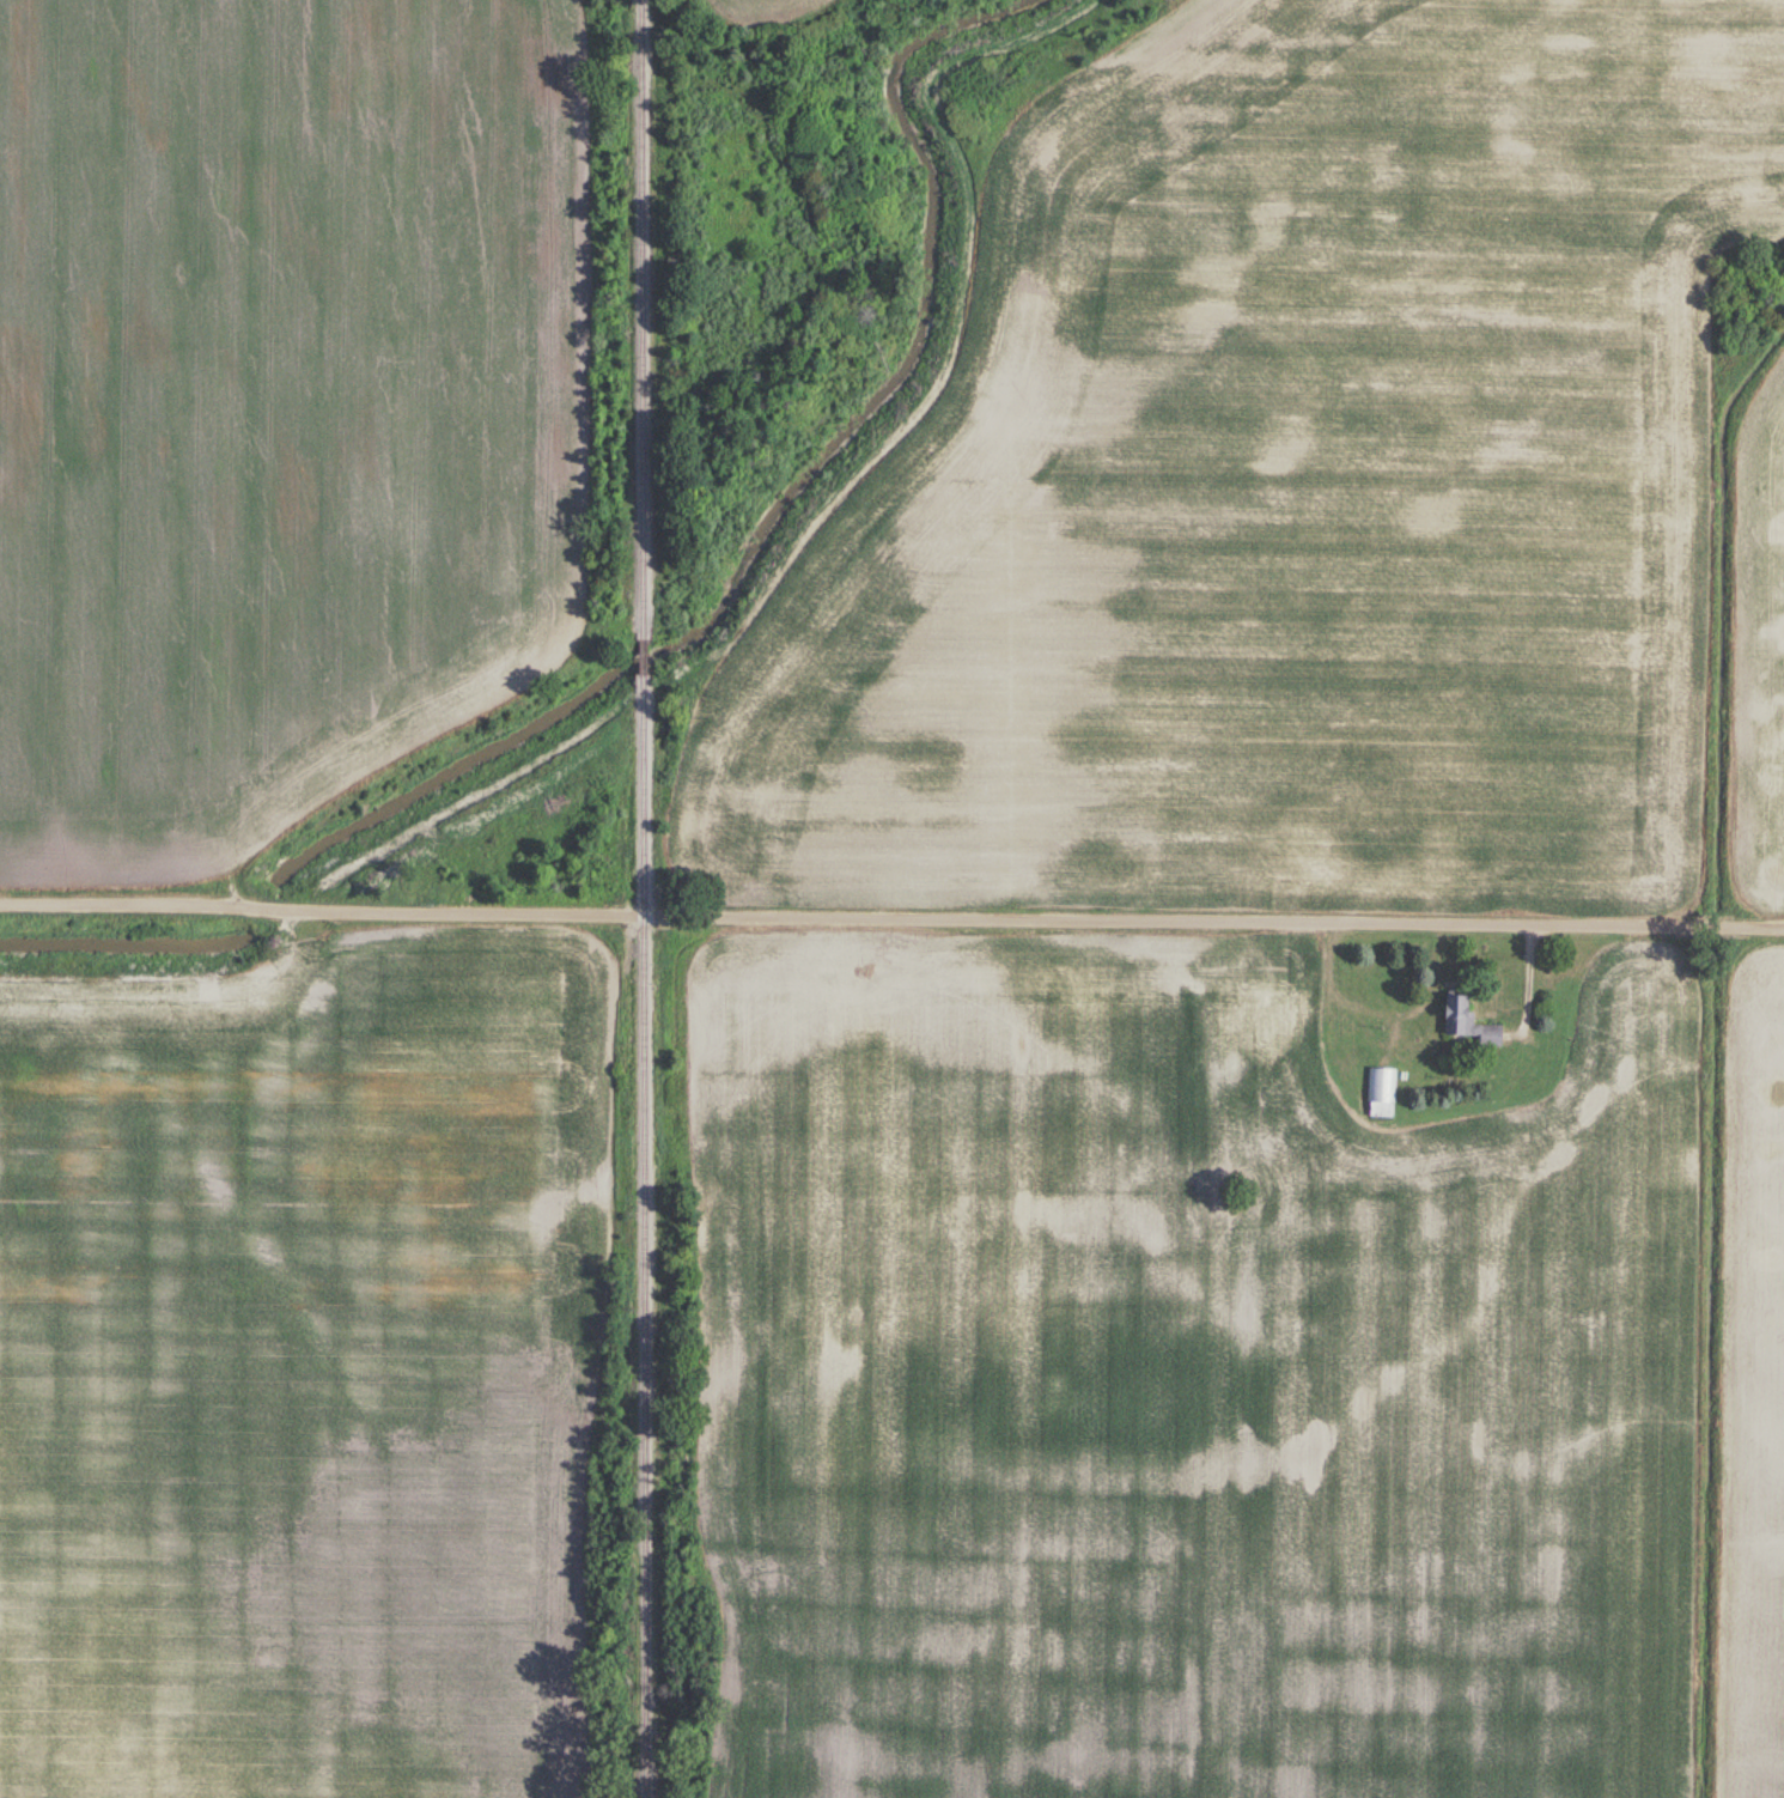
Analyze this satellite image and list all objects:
railway: (644, 898)
road: (891, 919)
building: (1268, 1006)
building: (1461, 1022)
building: (1380, 1093)

